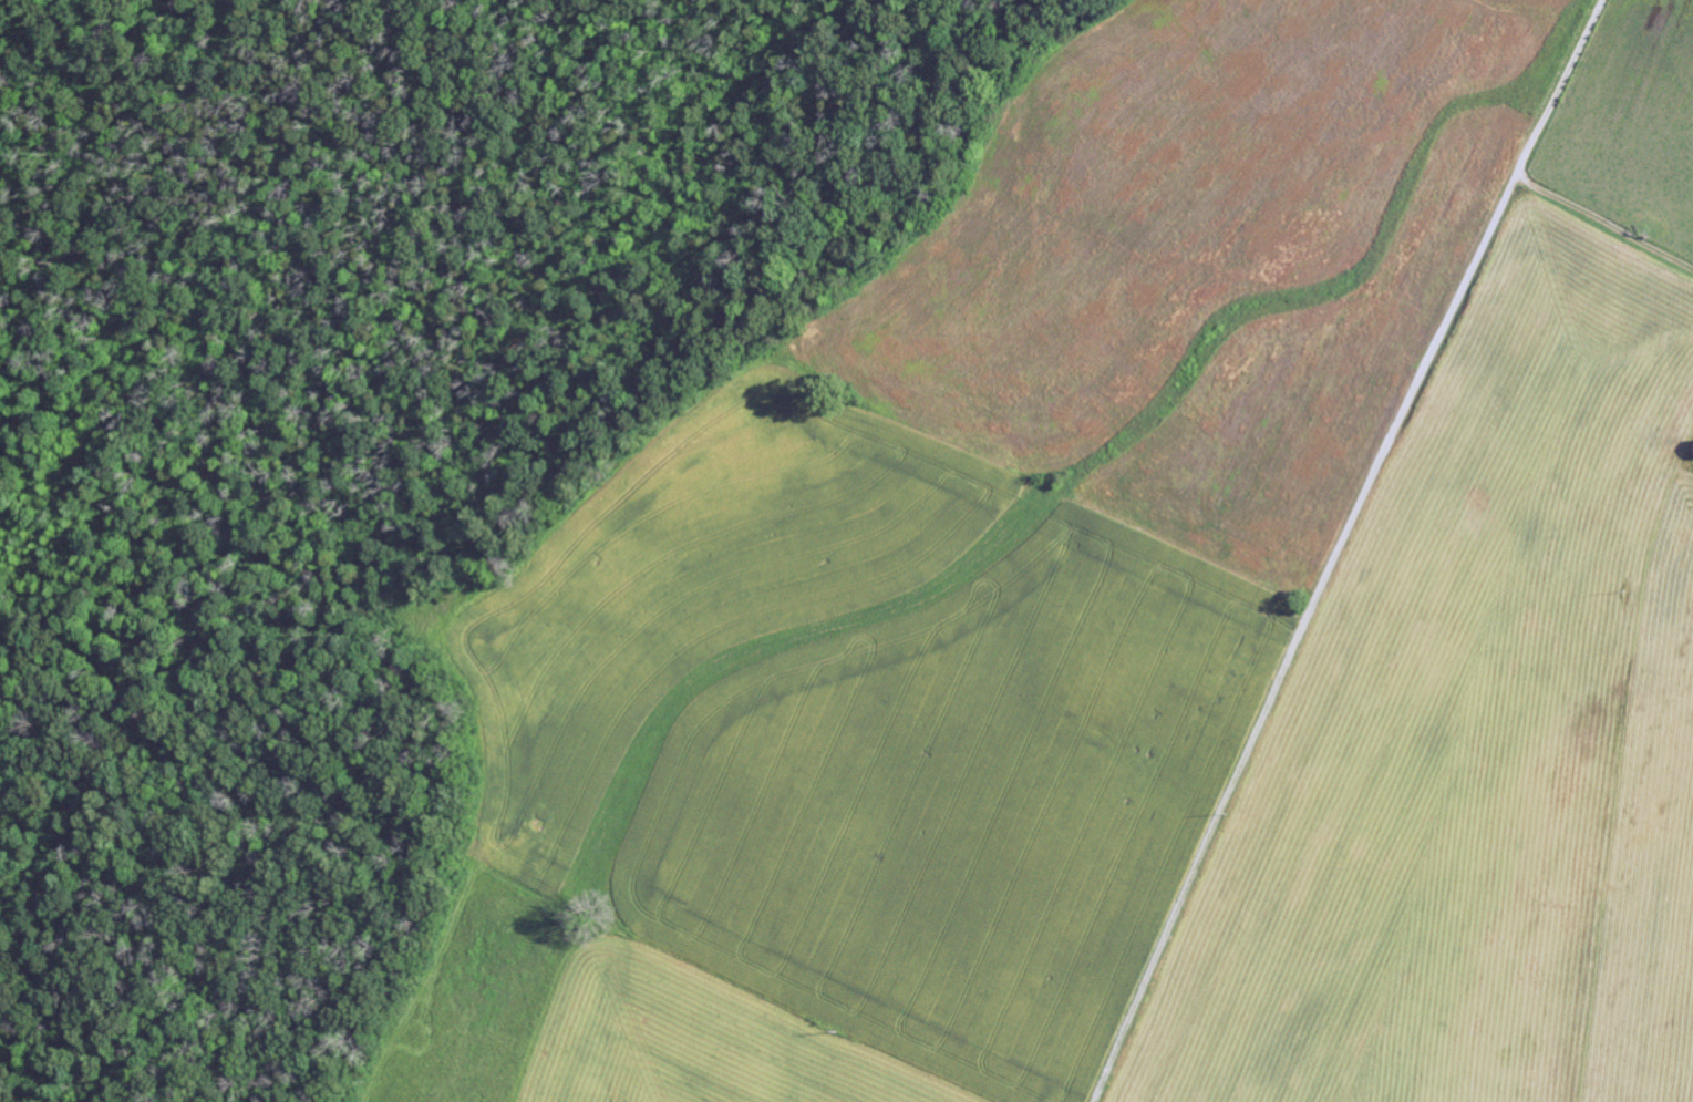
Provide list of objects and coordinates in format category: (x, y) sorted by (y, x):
road: (1591, 297)
road: (1405, 412)
road: (1155, 966)

